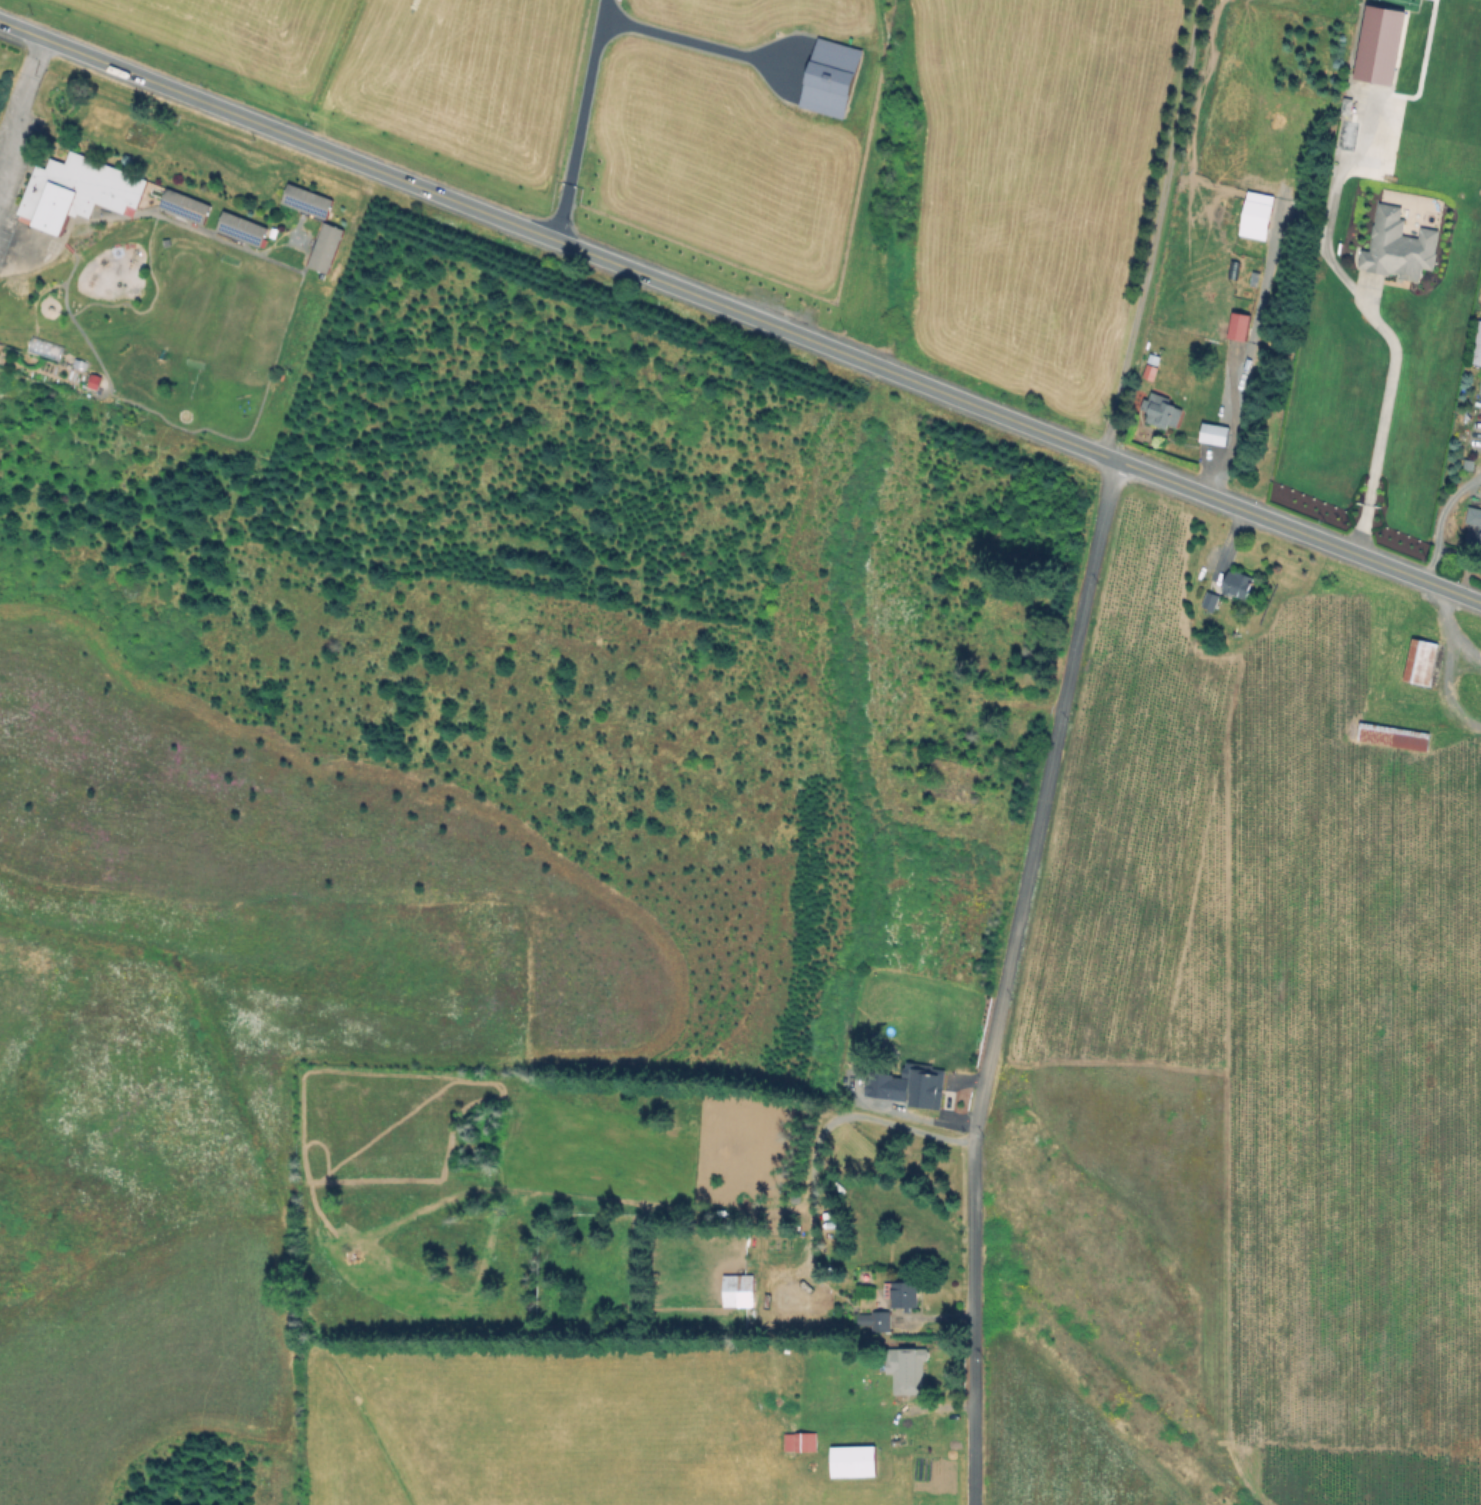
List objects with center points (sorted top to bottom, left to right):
road: (682, 35)
road: (22, 99)
road: (569, 117)
building: (78, 191)
building: (303, 204)
building: (186, 205)
building: (244, 226)
road: (1159, 229)
building: (1400, 247)
building: (322, 250)
road: (740, 311)
road: (1370, 316)
building: (1240, 326)
building: (1476, 349)
building: (1152, 367)
building: (91, 385)
building: (1161, 410)
building: (1215, 433)
road: (1436, 513)
building: (1472, 519)
building: (1479, 541)
building: (1240, 583)
building: (1211, 600)
building: (1418, 665)
building: (1391, 738)
road: (1005, 978)
building: (900, 1085)
building: (940, 1101)
road: (827, 1125)
building: (739, 1290)
building: (903, 1294)
building: (800, 1297)
building: (875, 1320)
building: (907, 1369)
building: (801, 1441)
building: (854, 1461)

